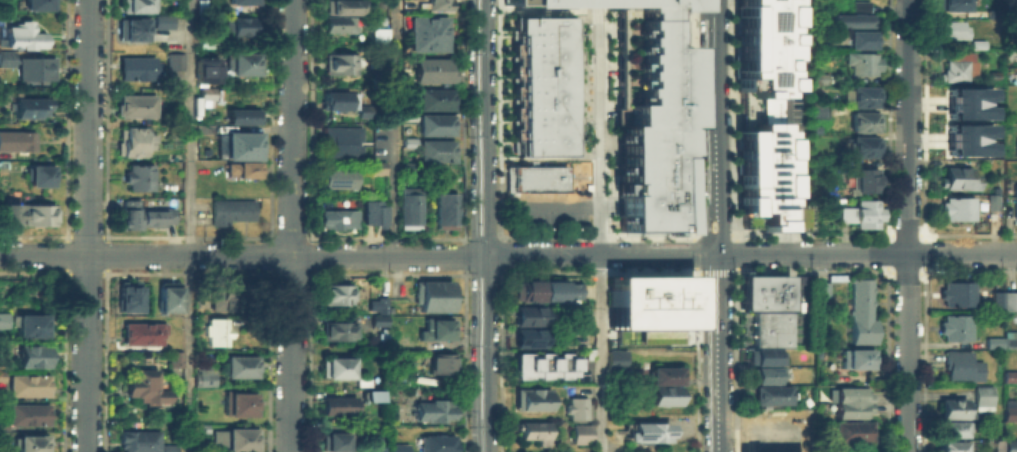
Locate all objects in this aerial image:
building: (240, 1)
building: (38, 3)
building: (977, 3)
building: (433, 4)
building: (135, 5)
building: (951, 5)
building: (858, 6)
building: (994, 12)
building: (342, 15)
building: (163, 18)
building: (1011, 18)
building: (852, 20)
building: (239, 24)
building: (133, 27)
building: (951, 30)
building: (381, 32)
building: (430, 32)
building: (22, 34)
building: (205, 38)
building: (862, 39)
building: (978, 45)
building: (5, 56)
building: (175, 59)
building: (238, 60)
building: (340, 60)
building: (861, 63)
building: (137, 65)
building: (33, 67)
building: (959, 68)
building: (205, 70)
building: (432, 70)
building: (5, 72)
building: (818, 77)
building: (378, 80)
building: (543, 87)
building: (206, 89)
building: (171, 93)
building: (968, 94)
building: (437, 98)
building: (866, 98)
building: (335, 100)
road: (796, 101)
building: (136, 103)
building: (29, 106)
road: (714, 109)
building: (818, 109)
building: (969, 110)
building: (365, 111)
road: (599, 113)
building: (243, 114)
building: (410, 114)
building: (650, 116)
road: (732, 116)
road: (463, 118)
road: (499, 118)
building: (762, 119)
building: (866, 122)
building: (437, 124)
road: (395, 128)
building: (969, 130)
building: (132, 138)
building: (16, 139)
building: (342, 141)
building: (410, 141)
building: (241, 143)
building: (968, 146)
building: (1015, 147)
building: (863, 148)
building: (436, 150)
building: (242, 166)
building: (378, 166)
building: (411, 168)
building: (39, 174)
building: (138, 174)
building: (339, 177)
building: (956, 178)
building: (540, 183)
building: (865, 183)
building: (991, 201)
building: (1014, 202)
road: (581, 206)
building: (409, 207)
building: (446, 208)
building: (231, 209)
building: (957, 209)
building: (374, 210)
building: (142, 213)
road: (696, 213)
building: (7, 214)
building: (36, 214)
building: (862, 214)
road: (797, 216)
building: (339, 219)
road: (86, 225)
road: (189, 225)
road: (487, 225)
road: (907, 225)
road: (292, 226)
road: (714, 231)
road: (693, 232)
road: (735, 233)
road: (715, 235)
road: (463, 237)
road: (481, 237)
road: (500, 237)
road: (798, 241)
road: (693, 251)
road: (735, 252)
road: (866, 252)
road: (501, 253)
road: (463, 255)
road: (358, 256)
road: (715, 271)
road: (736, 271)
road: (501, 272)
road: (597, 272)
road: (694, 272)
road: (463, 274)
road: (482, 274)
building: (763, 281)
building: (559, 290)
building: (232, 291)
building: (528, 291)
building: (337, 293)
building: (957, 294)
building: (434, 295)
building: (126, 296)
building: (168, 296)
building: (763, 296)
building: (218, 299)
building: (1004, 301)
building: (381, 304)
building: (763, 306)
building: (861, 309)
building: (657, 310)
building: (528, 316)
building: (3, 320)
building: (378, 320)
building: (30, 326)
building: (769, 327)
building: (954, 328)
building: (436, 329)
building: (216, 331)
building: (337, 331)
building: (140, 333)
building: (529, 338)
building: (1000, 342)
road: (601, 352)
road: (716, 352)
building: (32, 354)
building: (762, 355)
building: (615, 358)
building: (174, 359)
building: (857, 359)
building: (440, 363)
road: (463, 363)
building: (240, 366)
building: (961, 366)
building: (543, 367)
building: (338, 368)
building: (1, 373)
building: (763, 373)
building: (665, 374)
building: (1010, 377)
building: (204, 379)
building: (363, 381)
building: (26, 384)
building: (143, 388)
building: (378, 393)
building: (770, 393)
building: (663, 394)
building: (531, 398)
building: (981, 398)
building: (238, 401)
building: (338, 403)
building: (851, 403)
building: (577, 408)
building: (433, 410)
building: (24, 414)
building: (1010, 414)
building: (953, 418)
building: (200, 428)
building: (533, 431)
building: (649, 431)
building: (852, 432)
building: (580, 433)
building: (138, 440)
building: (234, 440)
building: (337, 441)
building: (369, 442)
building: (437, 443)
building: (30, 444)
building: (1011, 446)
building: (168, 447)
building: (398, 447)
building: (952, 447)

